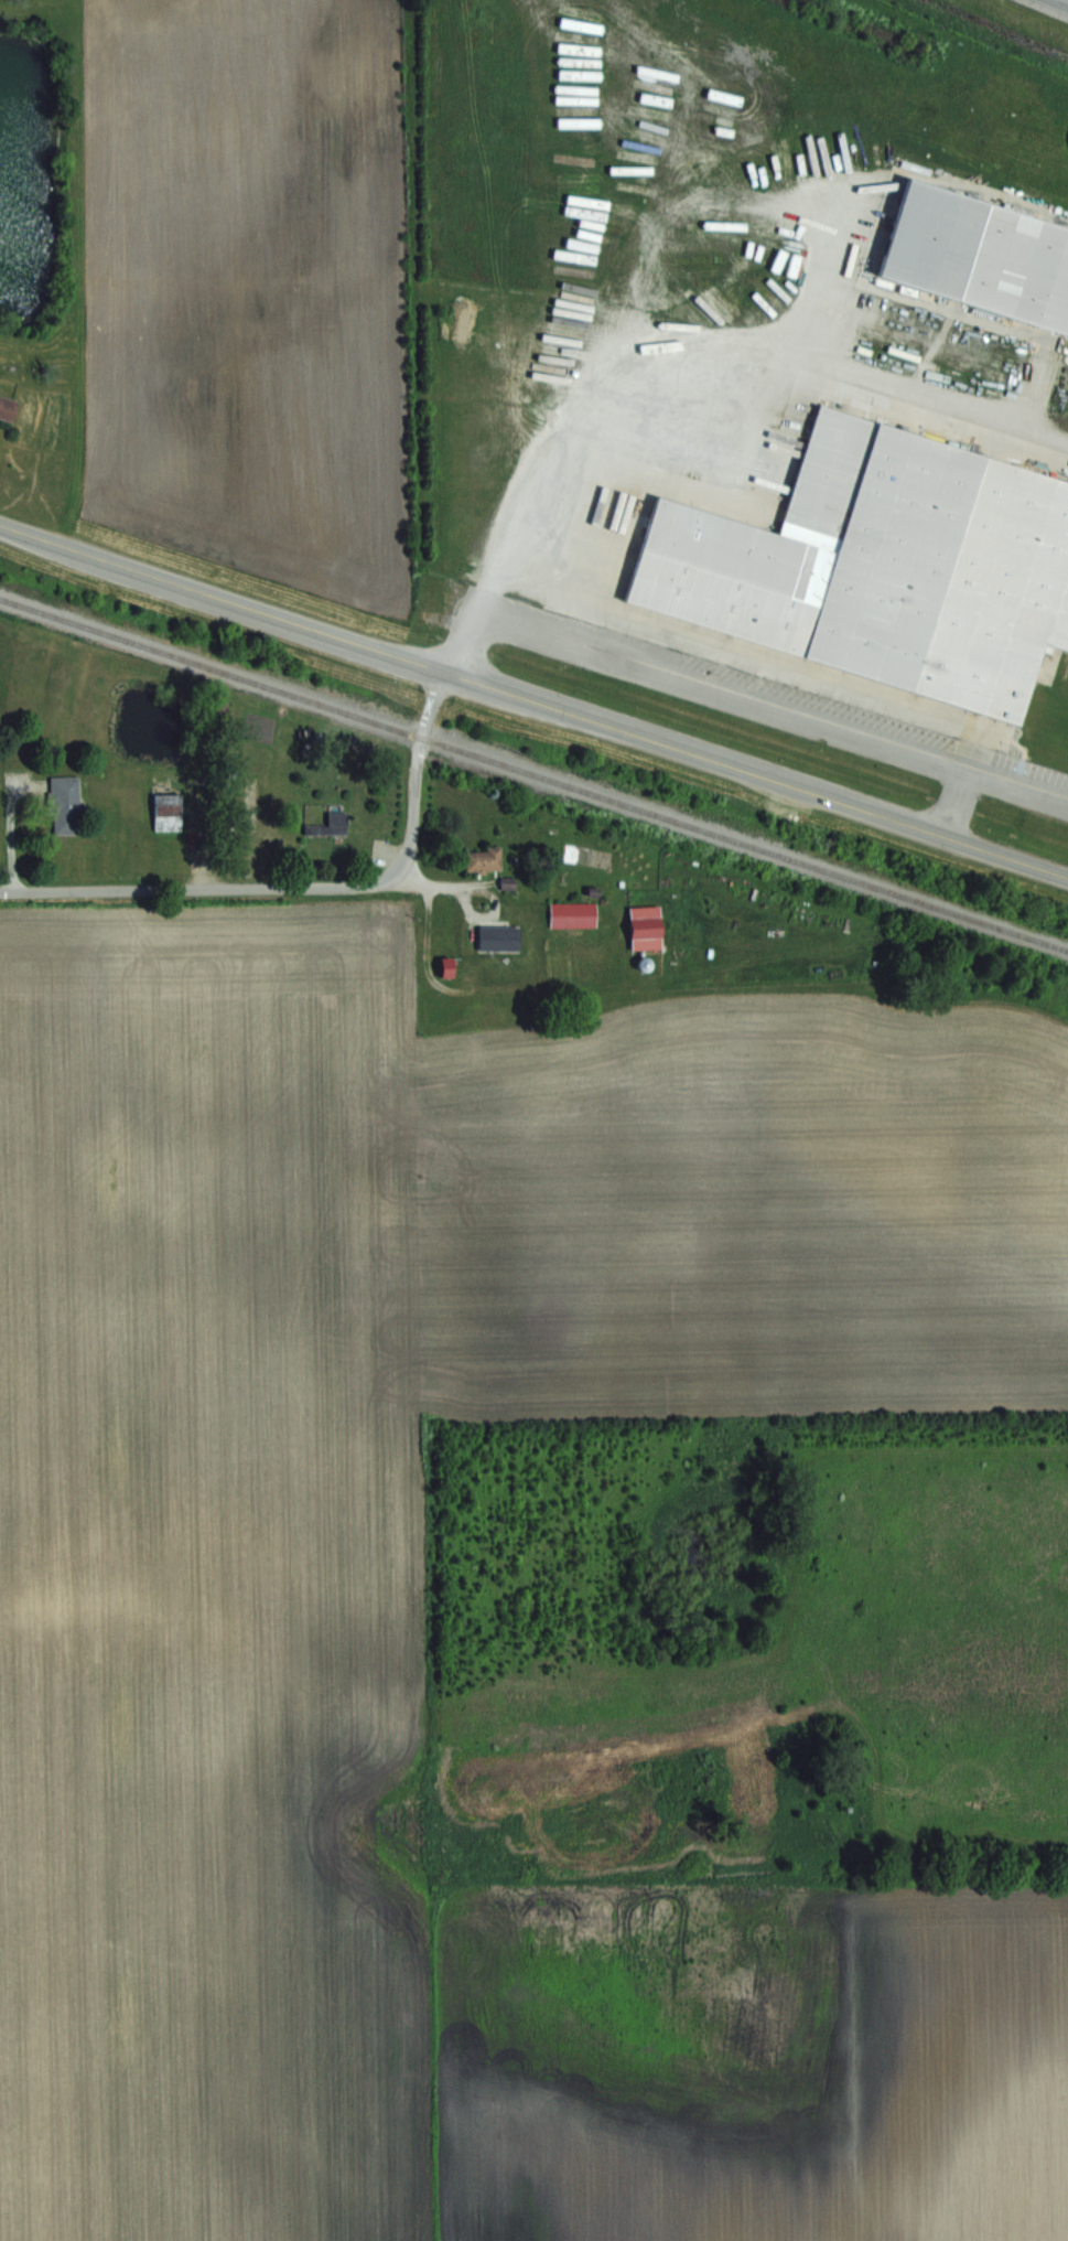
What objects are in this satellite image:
road: (1066, 0)
building: (972, 257)
road: (824, 267)
crop: (249, 289)
road: (669, 330)
building: (873, 561)
road: (222, 597)
road: (776, 696)
road: (417, 768)
railway: (533, 772)
road: (756, 772)
road: (960, 797)
building: (68, 804)
road: (9, 817)
building: (334, 824)
building: (488, 859)
road: (203, 888)
building: (640, 925)
road: (429, 973)

